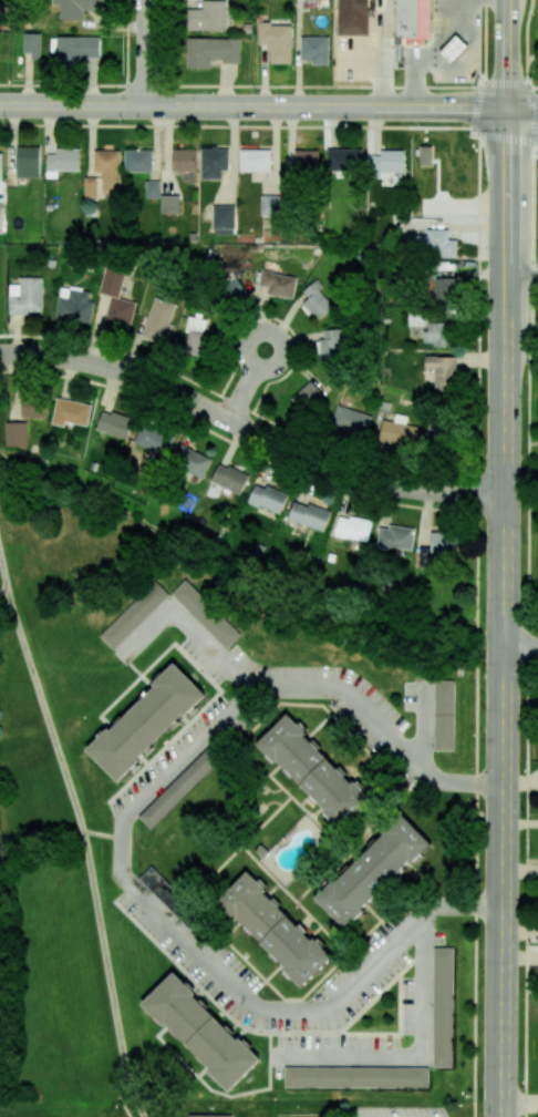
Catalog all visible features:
building: (77, 8)
building: (207, 17)
building: (352, 17)
building: (412, 21)
building: (277, 41)
road: (527, 41)
road: (438, 43)
building: (31, 44)
building: (74, 48)
building: (314, 49)
building: (454, 49)
building: (211, 51)
road: (147, 52)
road: (390, 53)
road: (506, 53)
road: (466, 78)
road: (270, 85)
road: (186, 105)
road: (438, 107)
road: (475, 107)
traffic signals: (506, 107)
road: (521, 107)
road: (270, 126)
building: (425, 155)
building: (63, 160)
building: (184, 160)
building: (255, 160)
building: (344, 160)
building: (137, 161)
building: (28, 162)
building: (214, 162)
building: (306, 162)
building: (386, 166)
building: (103, 174)
road: (505, 185)
building: (152, 188)
building: (169, 204)
building: (267, 206)
building: (223, 218)
building: (432, 244)
road: (521, 279)
building: (277, 284)
building: (232, 287)
building: (25, 296)
building: (115, 298)
building: (315, 301)
building: (74, 307)
building: (415, 319)
building: (158, 320)
building: (437, 334)
building: (195, 336)
building: (331, 346)
building: (442, 371)
road: (250, 381)
building: (307, 397)
building: (32, 407)
building: (70, 412)
building: (350, 420)
building: (114, 423)
road: (249, 430)
building: (436, 430)
building: (15, 433)
building: (397, 434)
building: (156, 438)
road: (532, 443)
building: (190, 460)
building: (229, 479)
building: (268, 498)
building: (308, 515)
building: (352, 527)
building: (395, 537)
building: (442, 542)
road: (526, 602)
building: (205, 613)
building: (133, 615)
road: (475, 625)
road: (190, 627)
road: (520, 648)
road: (501, 689)
building: (444, 715)
building: (146, 721)
building: (313, 771)
building: (178, 788)
road: (123, 849)
building: (372, 870)
building: (163, 890)
building: (273, 929)
building: (442, 1006)
building: (200, 1032)
road: (422, 1051)
building: (355, 1077)
road: (518, 1099)
road: (124, 1107)
building: (208, 1115)

